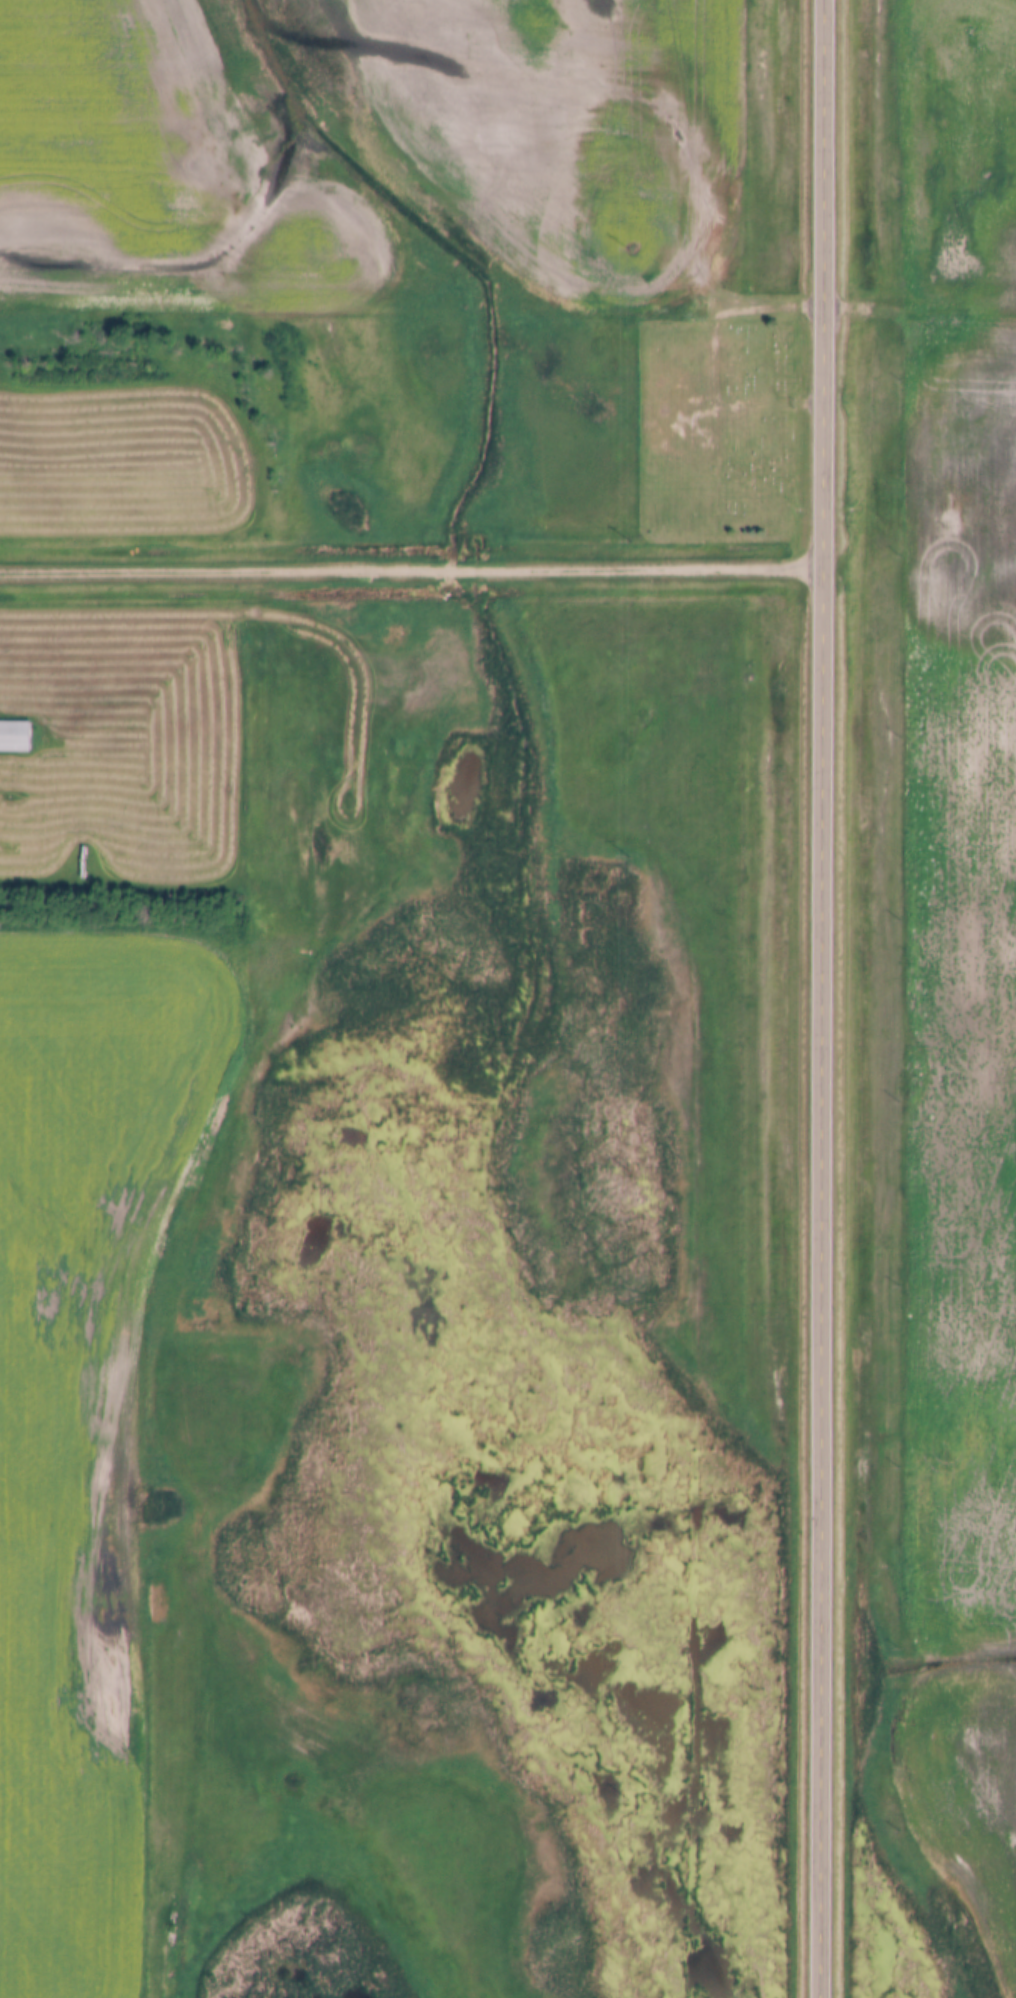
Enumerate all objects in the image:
park: (716, 428)
road: (413, 571)
building: (15, 738)
road: (825, 998)

